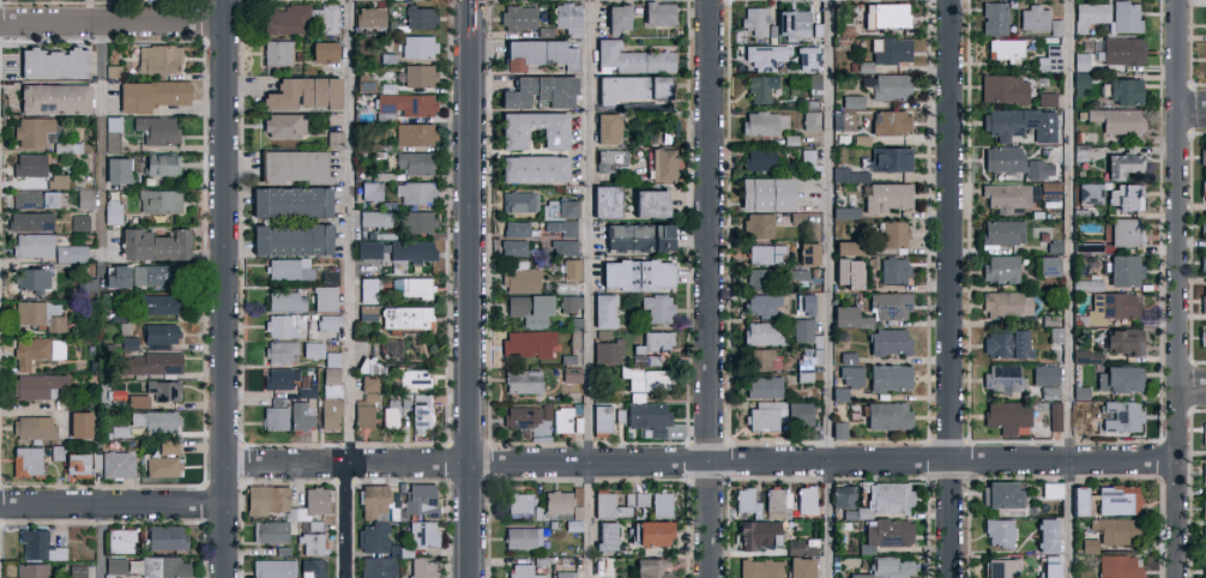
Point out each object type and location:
road: (468, 1)
building: (657, 12)
building: (888, 13)
building: (615, 14)
building: (368, 16)
building: (420, 16)
building: (515, 16)
building: (1089, 16)
building: (1124, 16)
building: (567, 17)
building: (993, 17)
building: (1033, 17)
building: (1205, 17)
building: (328, 18)
building: (285, 19)
building: (774, 20)
road: (113, 23)
building: (1055, 26)
building: (416, 46)
building: (1005, 47)
building: (891, 49)
building: (1122, 49)
building: (322, 50)
building: (276, 52)
building: (536, 53)
building: (628, 54)
building: (762, 56)
building: (158, 58)
building: (804, 58)
building: (1049, 58)
building: (49, 61)
building: (1080, 61)
building: (1205, 64)
building: (418, 74)
building: (1079, 83)
building: (362, 84)
building: (888, 85)
building: (631, 86)
building: (761, 88)
building: (1002, 88)
building: (537, 90)
building: (1122, 90)
building: (301, 91)
building: (150, 94)
building: (50, 97)
building: (1045, 98)
building: (851, 101)
building: (403, 104)
road: (1189, 108)
building: (810, 119)
building: (843, 120)
building: (1116, 120)
building: (762, 121)
building: (888, 121)
building: (1019, 122)
building: (283, 125)
building: (605, 127)
building: (156, 128)
building: (30, 130)
building: (414, 133)
building: (509, 136)
building: (333, 138)
building: (110, 140)
road: (100, 142)
building: (890, 157)
building: (611, 158)
building: (1001, 158)
building: (1202, 158)
building: (760, 159)
building: (807, 159)
building: (414, 162)
building: (161, 163)
building: (662, 163)
building: (1120, 163)
building: (291, 164)
building: (531, 167)
building: (1038, 168)
building: (29, 169)
building: (115, 169)
building: (848, 174)
building: (56, 180)
building: (370, 189)
building: (415, 191)
building: (764, 192)
building: (1090, 193)
building: (1204, 193)
building: (1017, 194)
building: (886, 195)
building: (1123, 195)
building: (35, 198)
building: (84, 198)
building: (158, 200)
building: (518, 200)
building: (603, 200)
building: (288, 201)
building: (646, 201)
building: (557, 207)
building: (110, 211)
building: (845, 211)
building: (374, 217)
building: (28, 219)
building: (78, 221)
building: (418, 221)
building: (758, 224)
building: (1204, 225)
building: (514, 229)
building: (559, 229)
road: (349, 230)
building: (1002, 231)
building: (1124, 231)
building: (893, 233)
building: (635, 236)
building: (289, 239)
building: (31, 243)
building: (153, 243)
building: (562, 246)
building: (512, 247)
building: (844, 247)
building: (367, 249)
building: (410, 249)
building: (806, 252)
building: (68, 253)
building: (765, 253)
building: (1048, 265)
building: (1204, 265)
building: (1000, 267)
building: (289, 269)
building: (571, 269)
building: (1122, 269)
building: (893, 270)
building: (846, 271)
building: (634, 273)
building: (795, 273)
building: (115, 275)
building: (151, 275)
building: (30, 278)
building: (758, 278)
building: (520, 279)
building: (89, 284)
building: (1089, 284)
building: (410, 285)
road: (590, 288)
road: (1174, 288)
road: (227, 289)
building: (366, 289)
road: (472, 289)
road: (712, 289)
road: (826, 289)
road: (952, 289)
road: (1068, 289)
building: (322, 297)
building: (285, 300)
building: (159, 303)
building: (569, 303)
building: (803, 303)
building: (1007, 303)
building: (761, 305)
building: (888, 305)
building: (1111, 306)
building: (1204, 307)
building: (656, 308)
building: (529, 309)
building: (366, 311)
building: (603, 311)
building: (38, 314)
building: (844, 315)
building: (404, 317)
building: (279, 325)
building: (327, 325)
building: (802, 330)
building: (158, 332)
building: (762, 333)
building: (1204, 339)
building: (657, 341)
building: (887, 341)
building: (1122, 341)
building: (527, 342)
building: (129, 343)
building: (1003, 343)
building: (388, 345)
building: (312, 349)
building: (607, 349)
building: (35, 350)
building: (281, 351)
building: (1086, 356)
building: (843, 357)
building: (760, 359)
building: (652, 360)
building: (150, 362)
building: (807, 363)
building: (567, 373)
building: (1044, 374)
building: (331, 375)
building: (850, 375)
building: (279, 377)
building: (888, 377)
building: (1003, 377)
building: (412, 378)
building: (650, 379)
building: (521, 381)
building: (36, 384)
building: (366, 384)
building: (762, 386)
road: (1189, 386)
building: (163, 390)
building: (306, 391)
building: (1049, 391)
building: (1080, 391)
building: (839, 393)
building: (137, 401)
building: (364, 408)
building: (393, 409)
building: (421, 411)
building: (328, 413)
building: (301, 414)
building: (647, 414)
building: (273, 415)
building: (620, 415)
building: (778, 415)
building: (886, 415)
building: (1054, 415)
building: (1120, 415)
building: (1007, 416)
building: (1078, 416)
building: (526, 417)
building: (601, 417)
building: (155, 420)
building: (565, 420)
building: (78, 423)
building: (32, 426)
building: (1205, 426)
building: (838, 429)
building: (119, 431)
building: (168, 446)
building: (55, 451)
building: (24, 459)
road: (700, 462)
building: (74, 463)
building: (113, 463)
building: (163, 465)
building: (1204, 471)
building: (1050, 489)
building: (1000, 493)
building: (575, 495)
building: (843, 495)
building: (373, 499)
building: (420, 499)
building: (634, 499)
building: (806, 499)
building: (885, 499)
building: (1116, 499)
building: (1077, 500)
building: (556, 501)
building: (747, 501)
building: (269, 502)
building: (518, 502)
building: (777, 502)
building: (658, 504)
road: (113, 505)
building: (1204, 507)
road: (349, 519)
building: (572, 524)
building: (1114, 530)
building: (270, 531)
building: (999, 531)
building: (422, 532)
building: (649, 532)
building: (756, 534)
building: (886, 534)
building: (605, 535)
building: (1045, 535)
building: (165, 536)
building: (521, 537)
building: (375, 538)
road: (100, 541)
building: (121, 541)
building: (310, 543)
building: (37, 544)
building: (1089, 544)
building: (795, 546)
building: (1205, 550)
building: (114, 565)
building: (1118, 566)
building: (314, 567)
building: (378, 567)
building: (800, 567)
building: (1001, 567)
building: (273, 568)
building: (650, 568)
building: (761, 568)
building: (884, 568)
building: (30, 570)
building: (1048, 570)
building: (1205, 570)
building: (76, 571)
building: (521, 571)
building: (563, 573)

